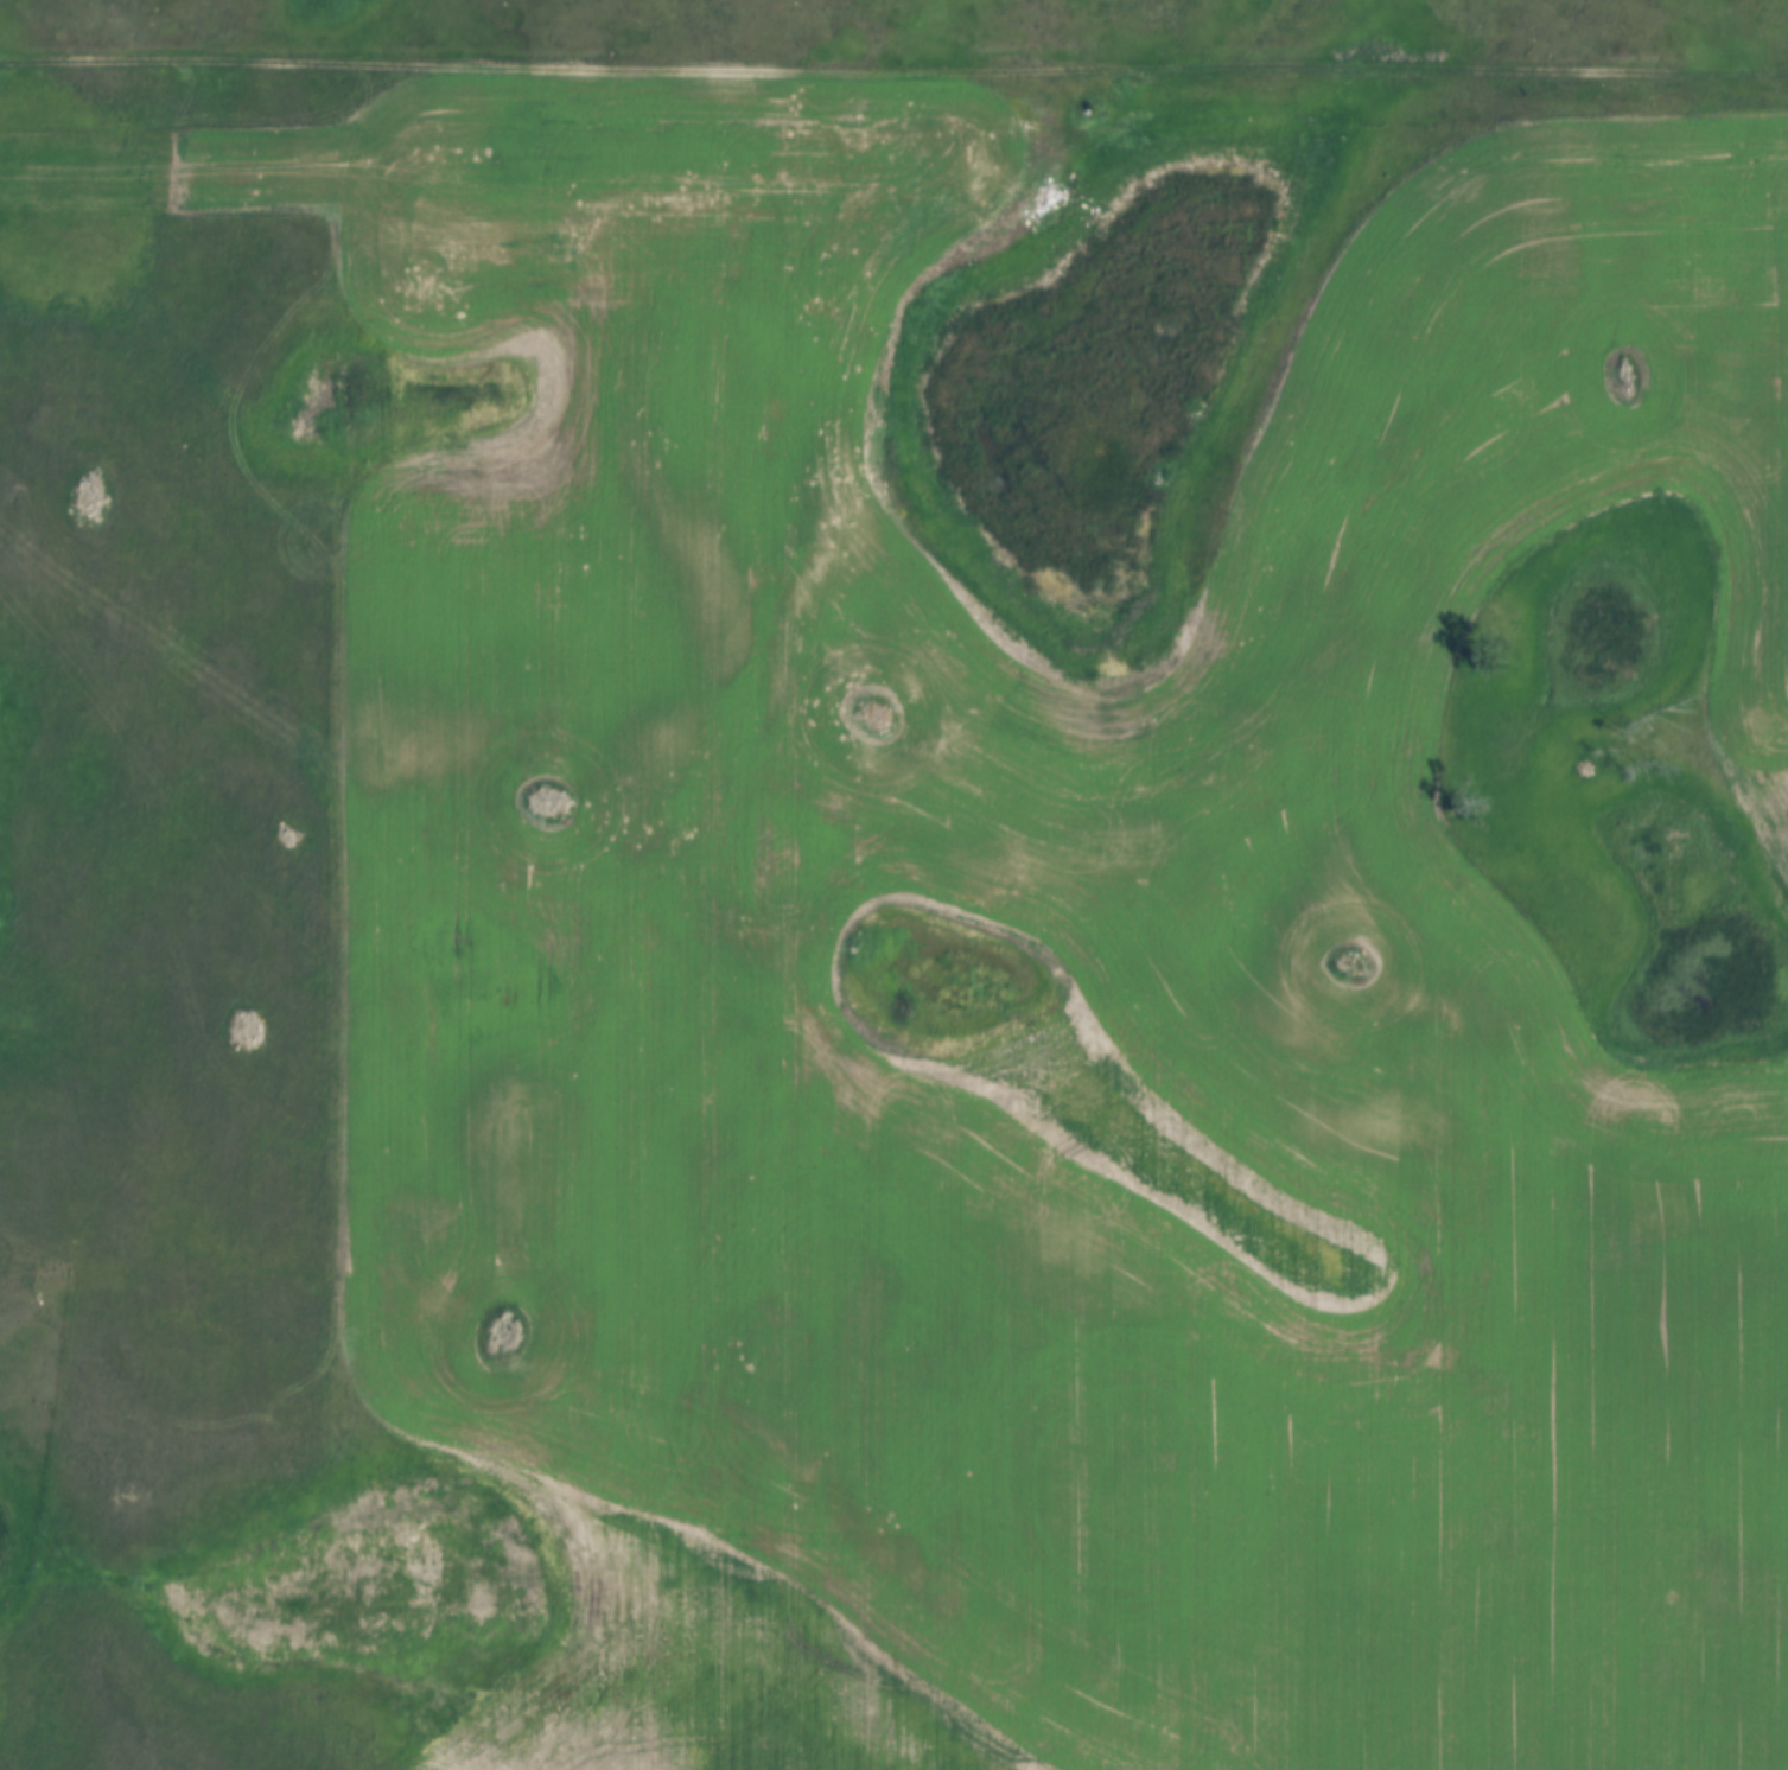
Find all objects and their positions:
road: (893, 69)

